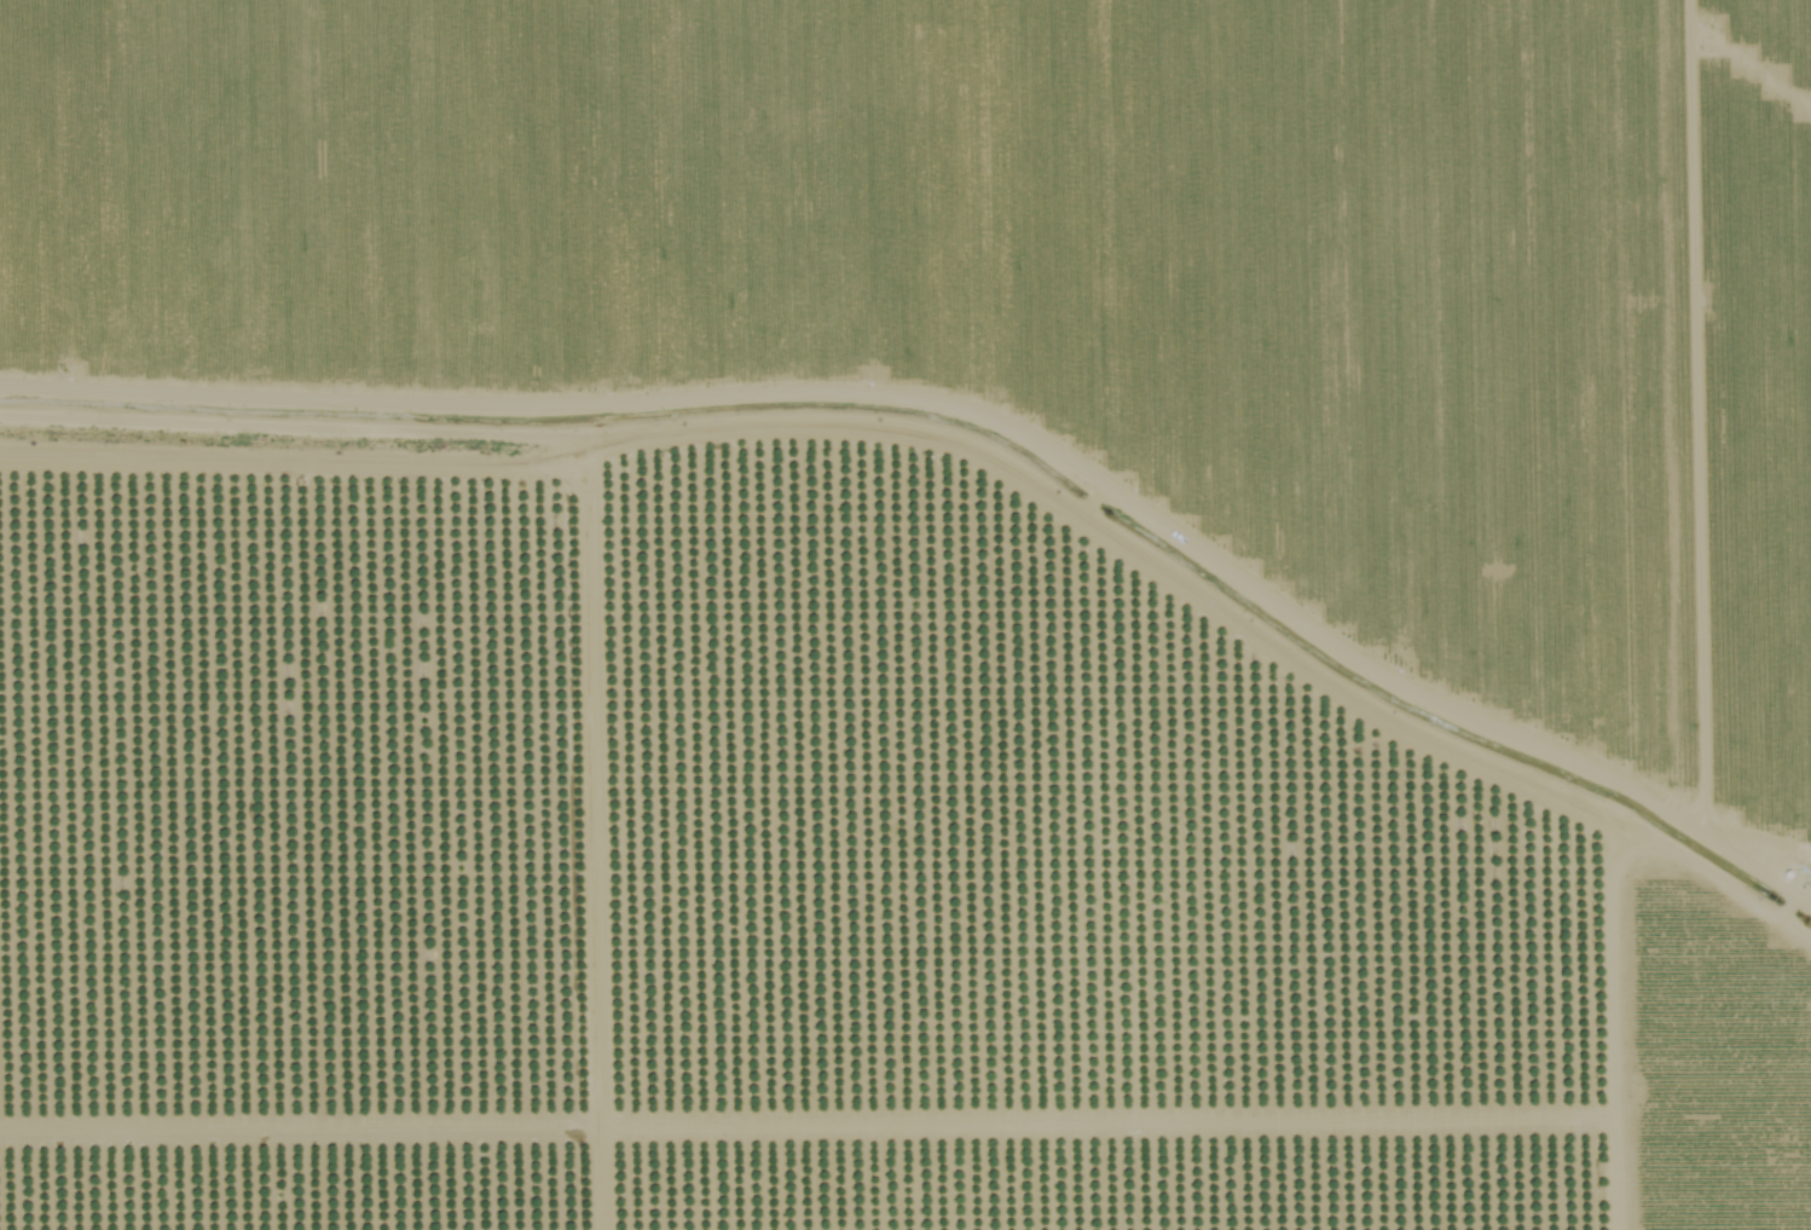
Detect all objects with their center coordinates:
crop: (1054, 277)
crop: (773, 867)

